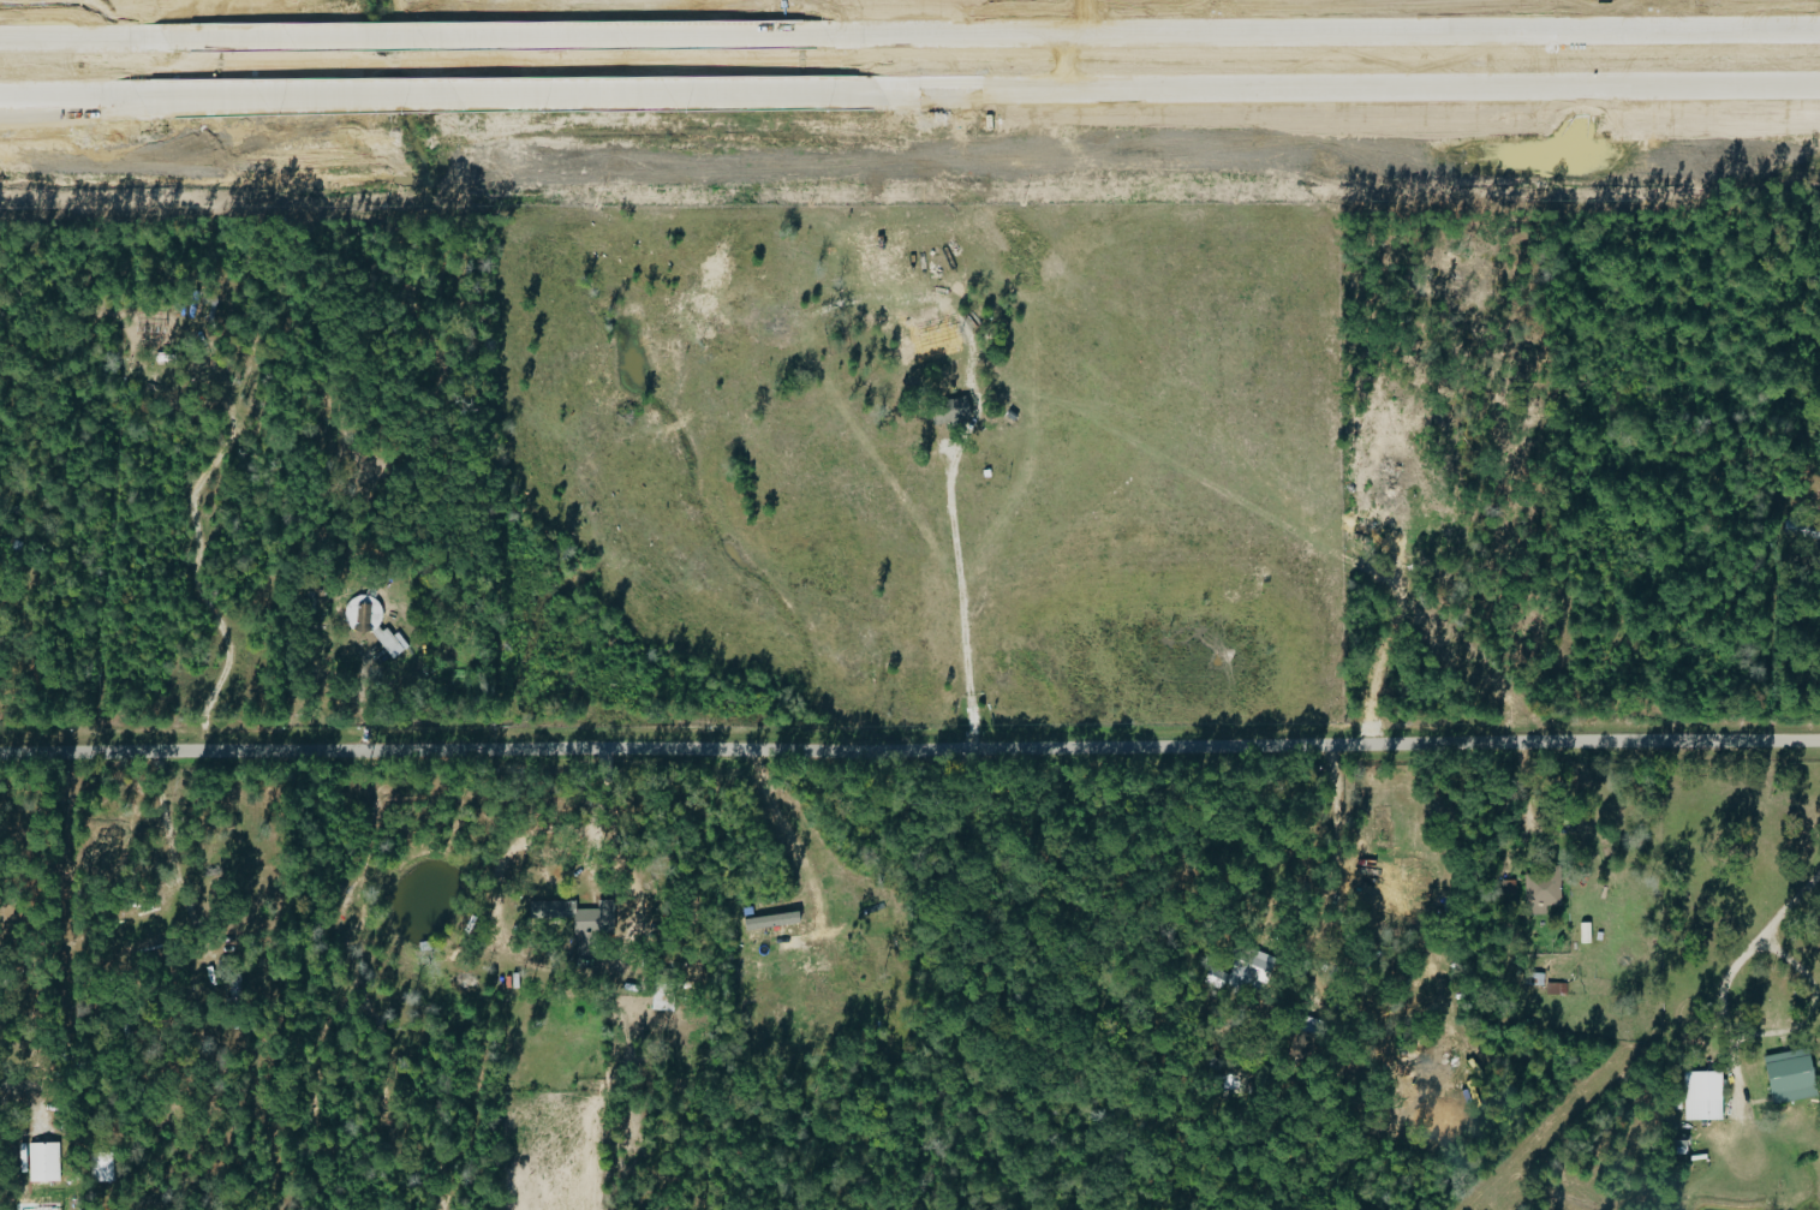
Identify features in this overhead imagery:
road: (55, 32)
road: (1317, 34)
road: (70, 37)
road: (477, 37)
road: (1345, 90)
road: (503, 95)
road: (67, 96)
road: (207, 100)
road: (70, 109)
building: (945, 412)
road: (956, 585)
building: (370, 624)
road: (909, 750)
road: (584, 822)
road: (790, 841)
building: (1504, 887)
building: (1539, 892)
road: (1785, 902)
building: (538, 910)
building: (577, 920)
building: (768, 920)
building: (1242, 970)
road: (1767, 1033)
building: (1786, 1075)
building: (1700, 1095)
building: (42, 1162)

